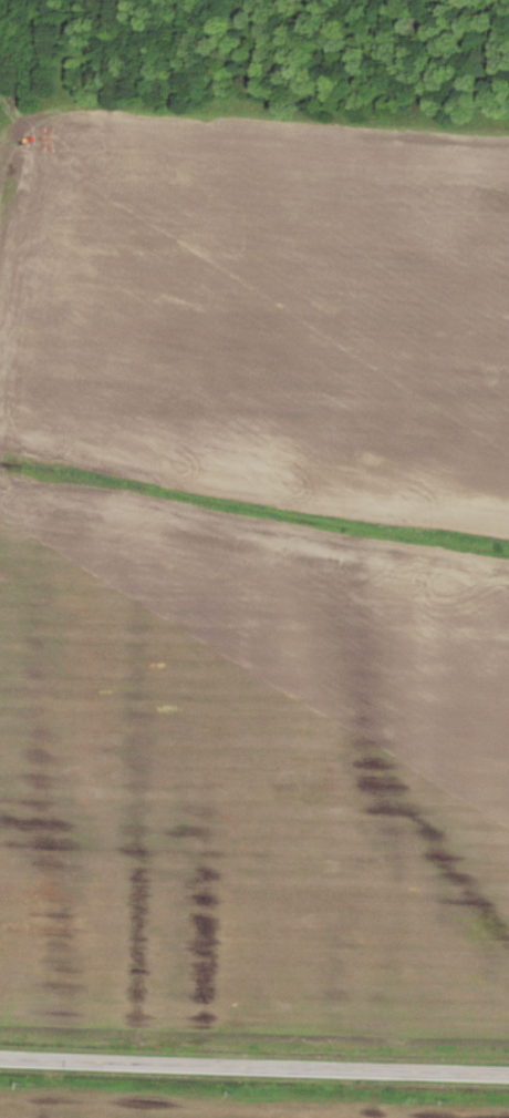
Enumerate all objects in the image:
road: (253, 1068)

